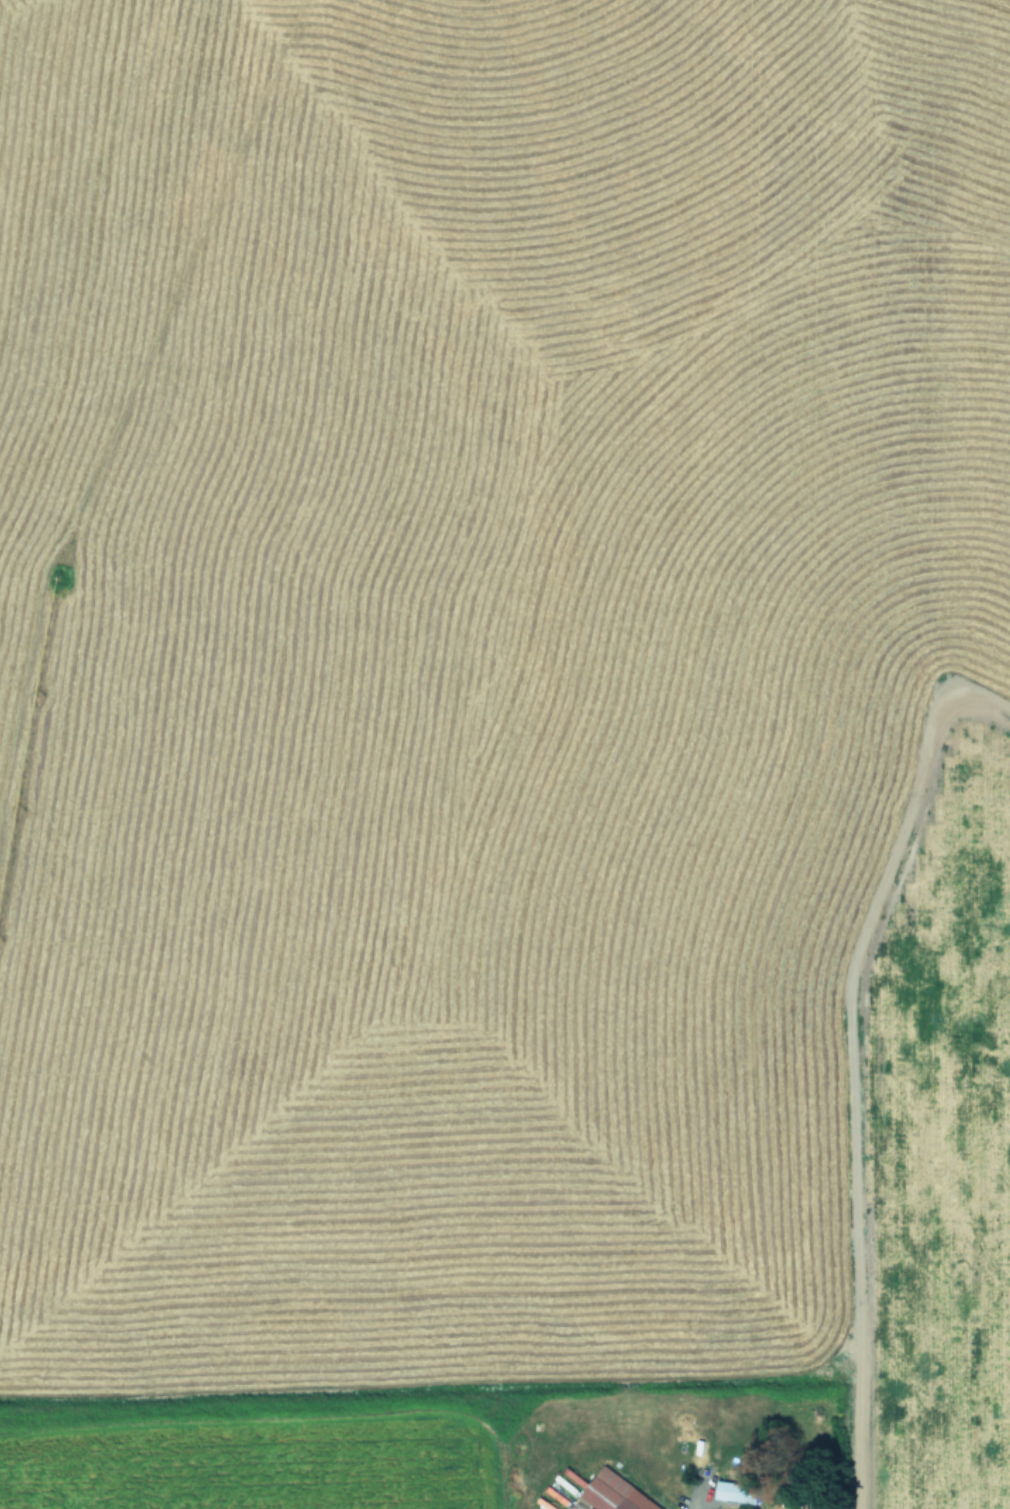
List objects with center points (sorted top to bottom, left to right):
crop: (505, 754)
road: (851, 1064)
building: (732, 1491)
building: (612, 1492)

